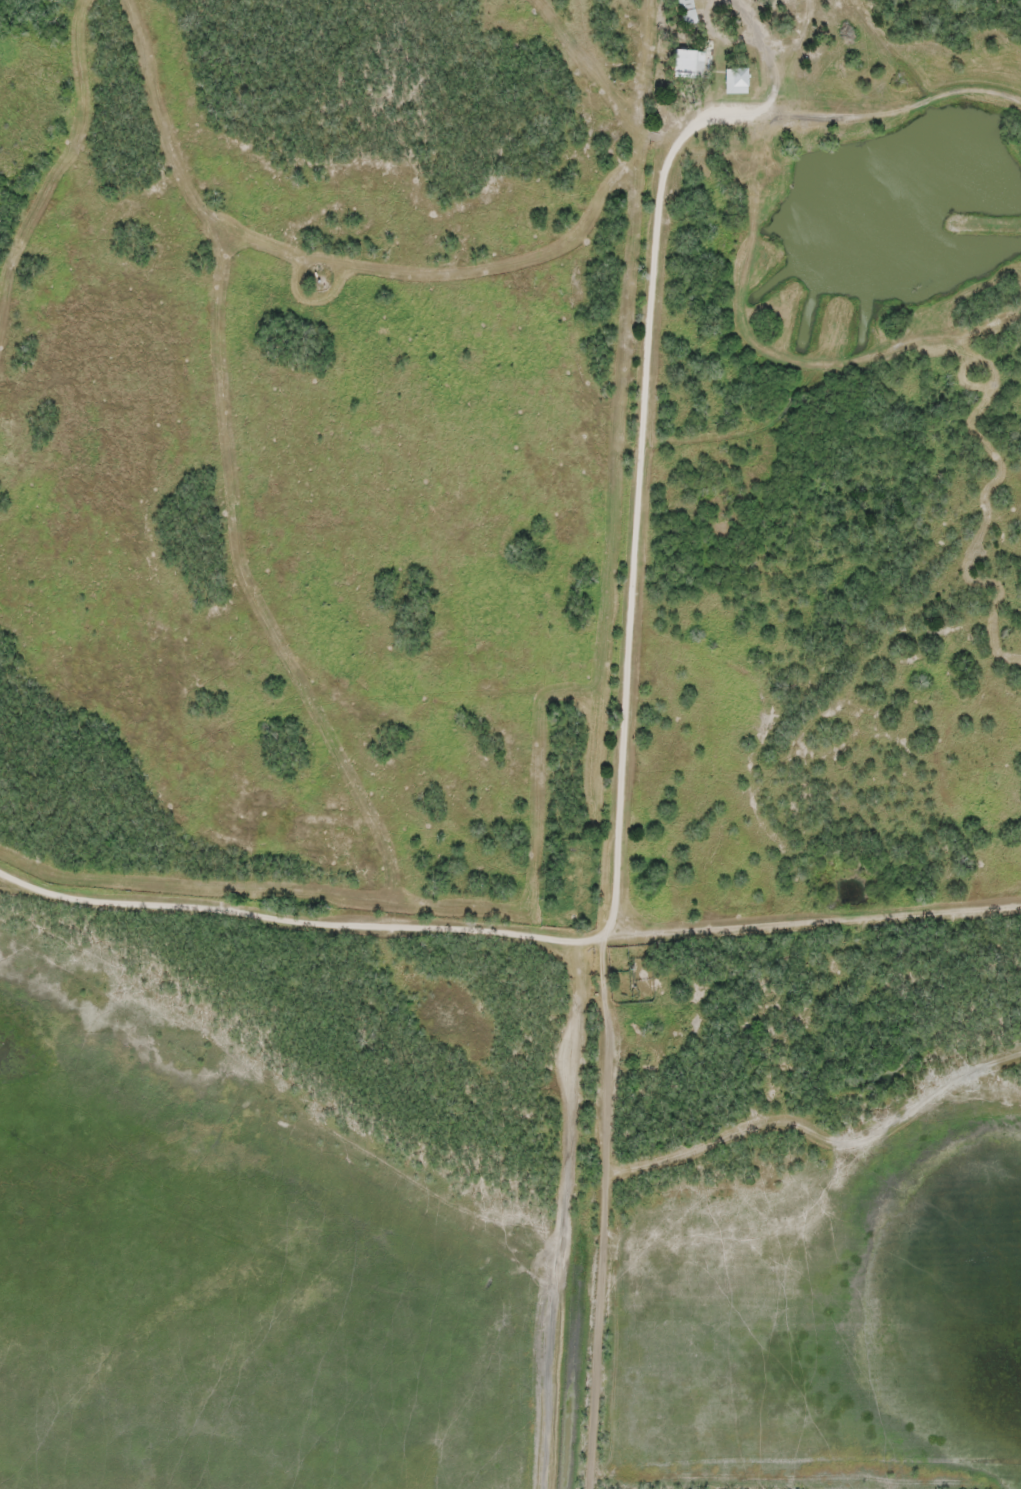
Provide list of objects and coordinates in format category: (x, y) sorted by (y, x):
building: (688, 10)
road: (873, 49)
building: (696, 65)
building: (739, 71)
river: (895, 198)
road: (636, 739)
road: (560, 1108)

